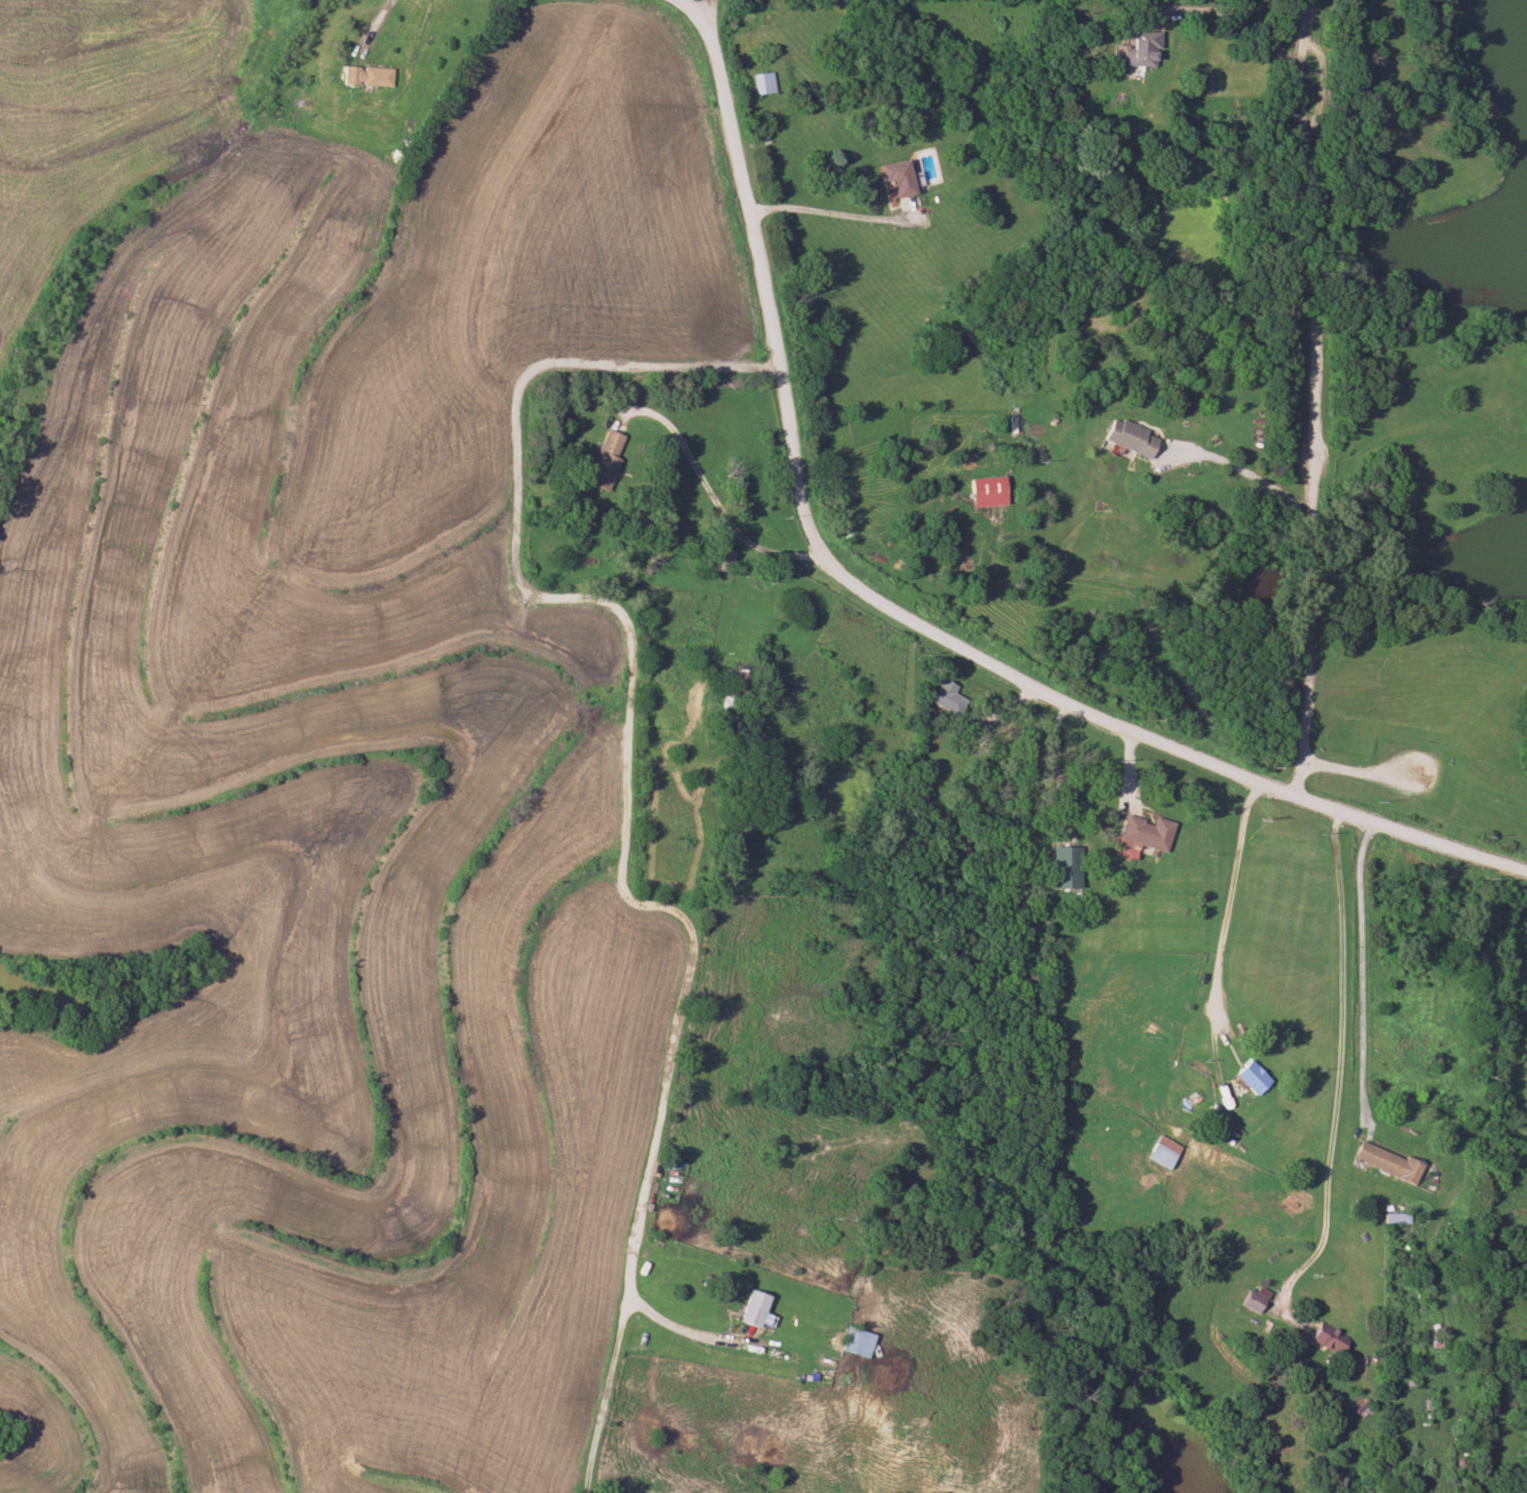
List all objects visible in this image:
road: (703, 17)
road: (1234, 22)
building: (1135, 48)
building: (348, 75)
building: (375, 76)
building: (759, 83)
building: (892, 179)
road: (1311, 398)
building: (1124, 438)
building: (600, 459)
road: (703, 490)
building: (982, 492)
building: (714, 559)
road: (899, 613)
building: (942, 697)
road: (632, 760)
road: (1358, 773)
building: (1141, 832)
road: (1228, 910)
road: (1364, 1007)
building: (1526, 1058)
road: (1341, 1067)
building: (1248, 1078)
building: (1380, 1162)
building: (1388, 1217)
building: (1247, 1300)
building: (748, 1308)
building: (1324, 1337)
building: (853, 1342)
road: (607, 1394)
building: (1355, 1405)

